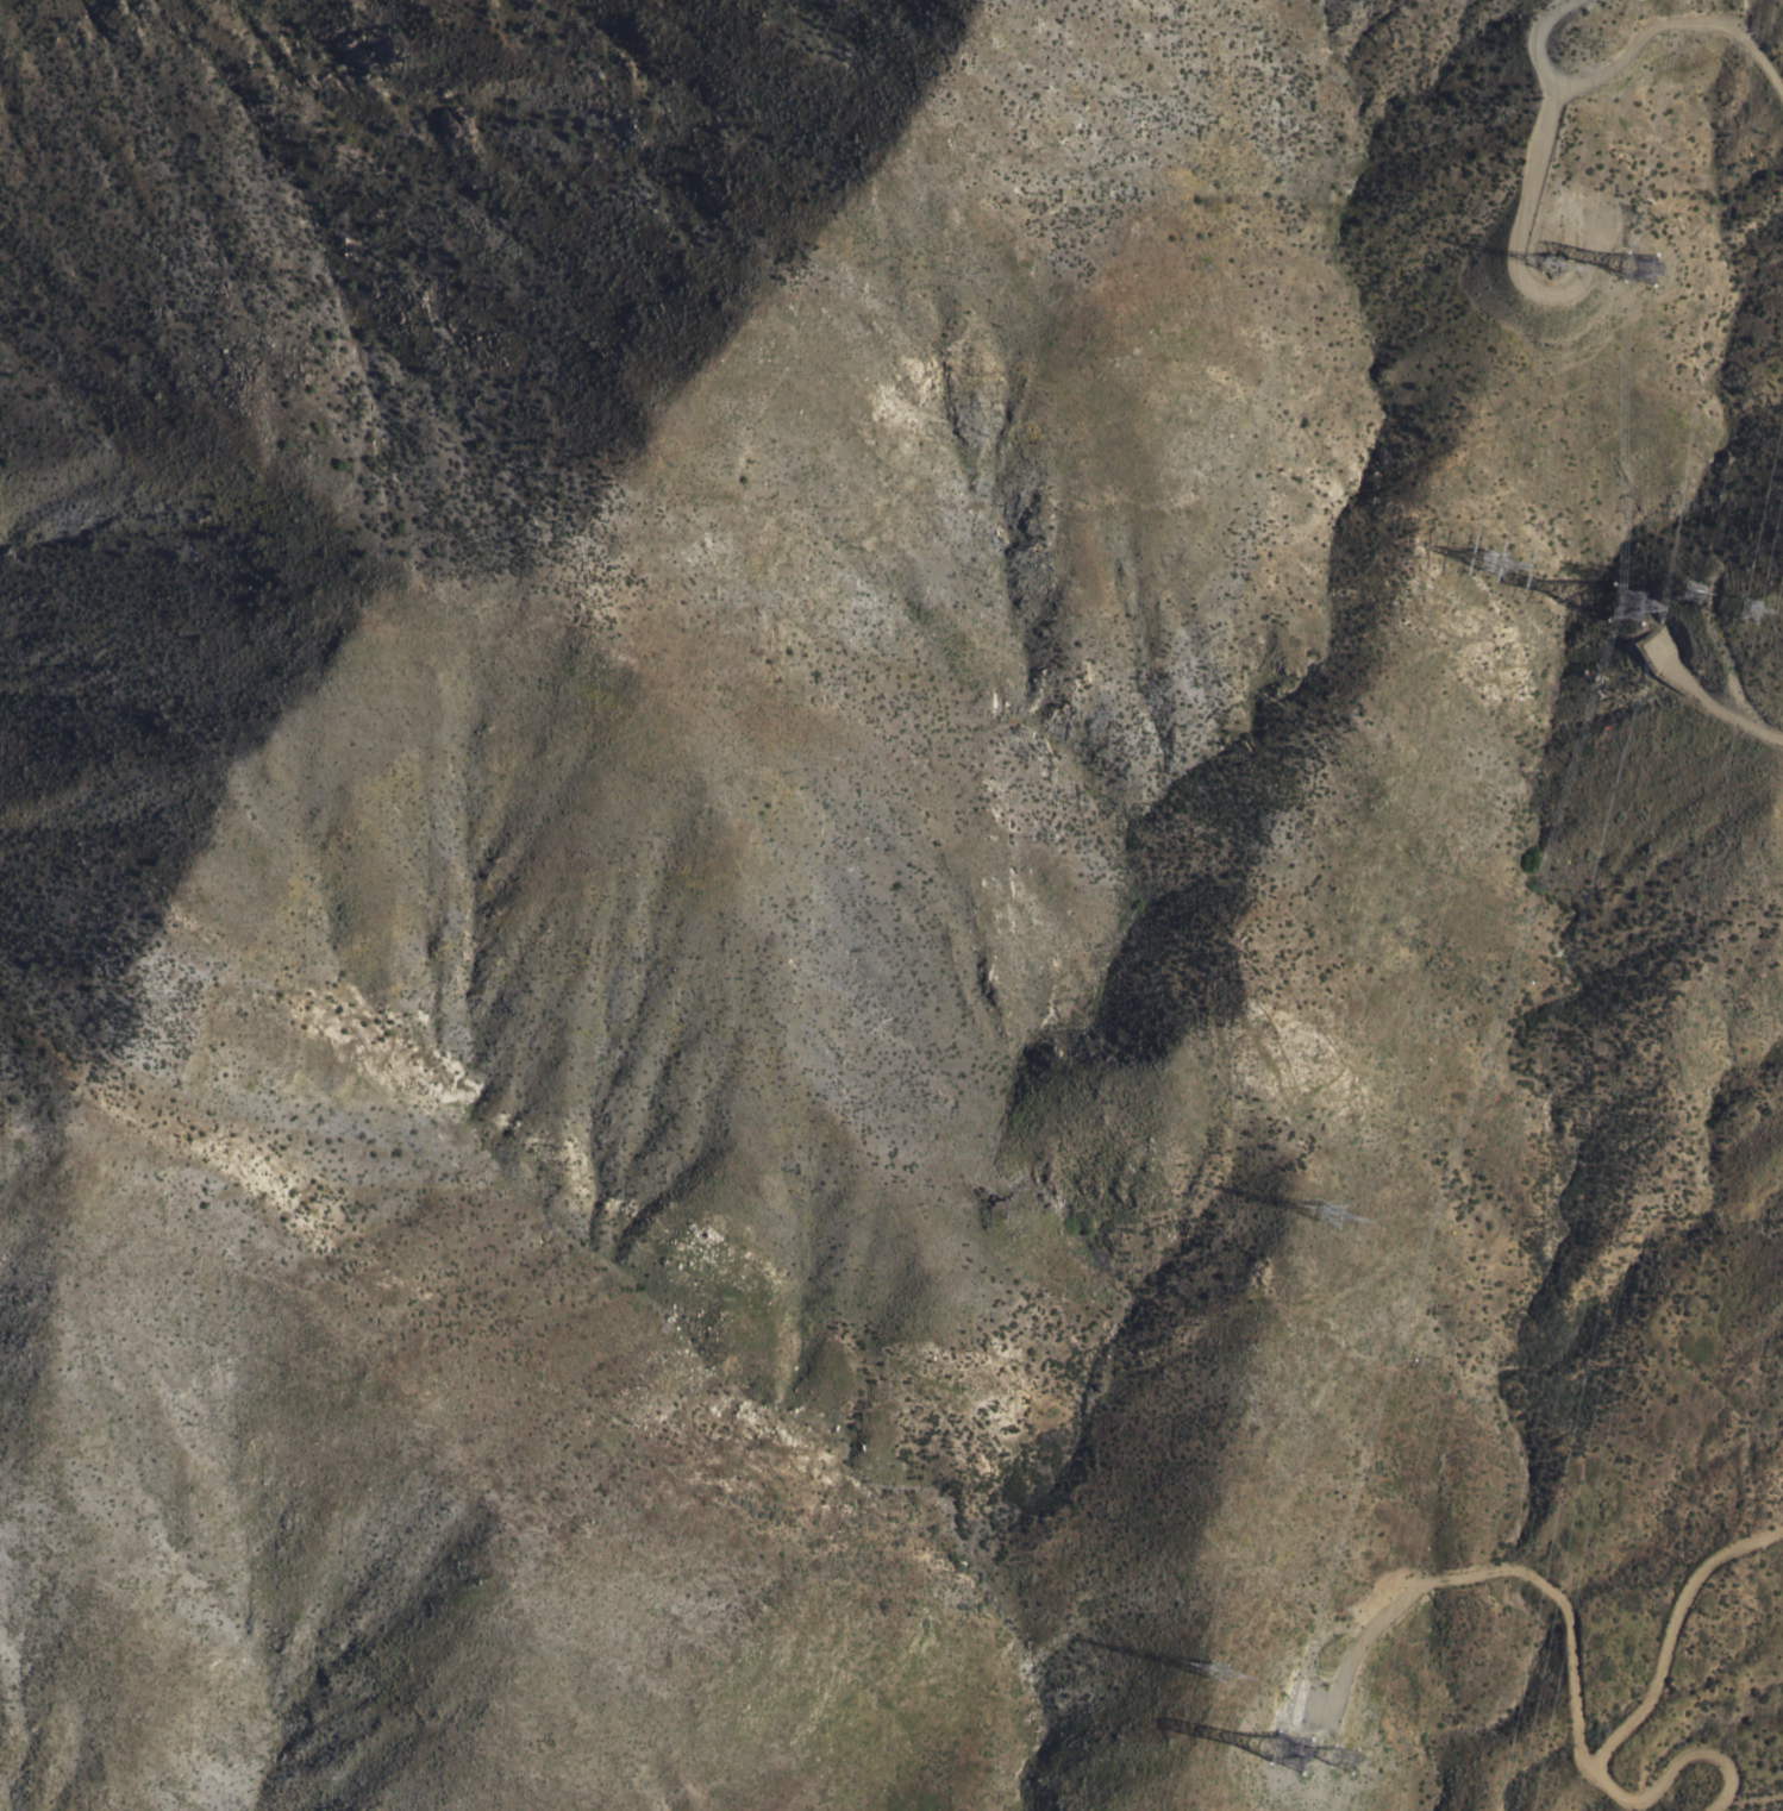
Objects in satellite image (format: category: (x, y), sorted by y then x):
road: (1640, 26)
power tower: (1685, 54)
power tower: (1556, 288)
power tower: (1572, 570)
power tower: (1499, 571)
power tower: (1637, 587)
power tower: (1693, 597)
power tower: (1748, 622)
power tower: (1335, 1227)
power tower: (1510, 1606)
power tower: (1545, 1622)
power tower: (1216, 1681)
road: (1614, 1719)
power tower: (1296, 1724)
power tower: (1324, 1803)

